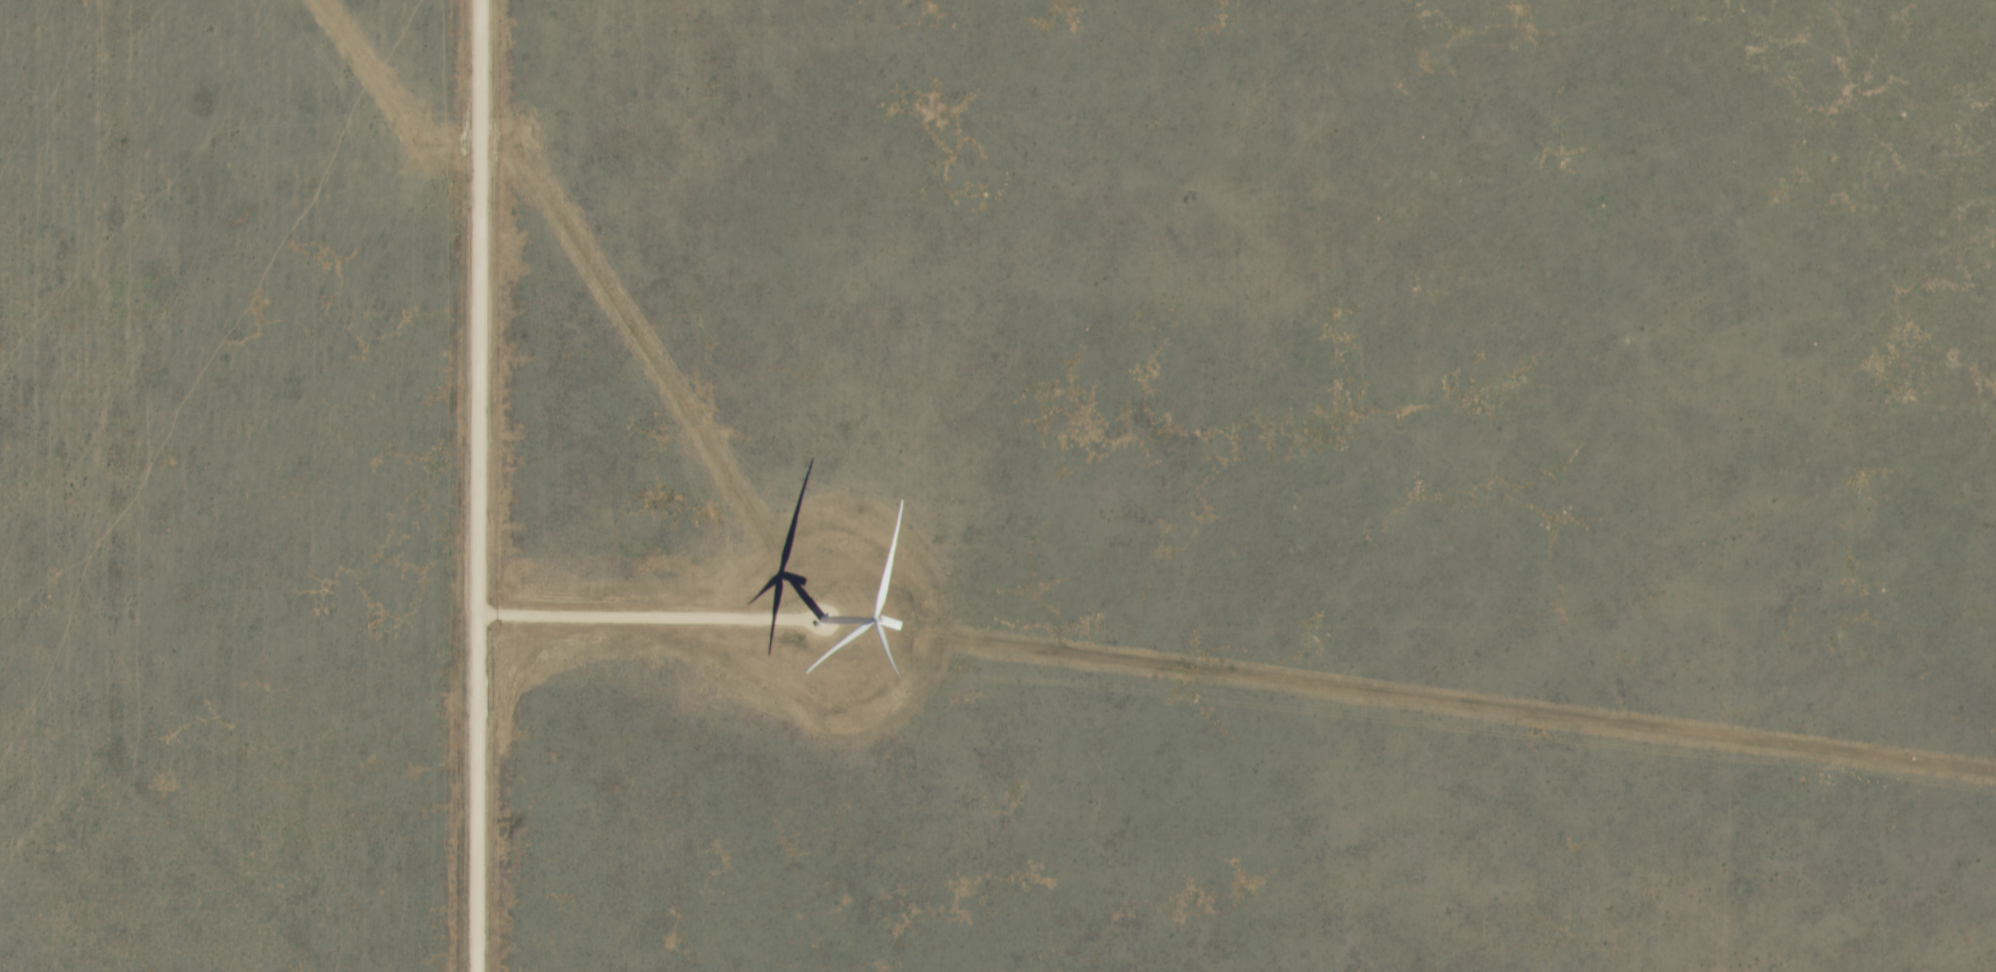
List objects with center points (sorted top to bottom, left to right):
road: (478, 485)
road: (636, 620)
wind turbine: (821, 623)

